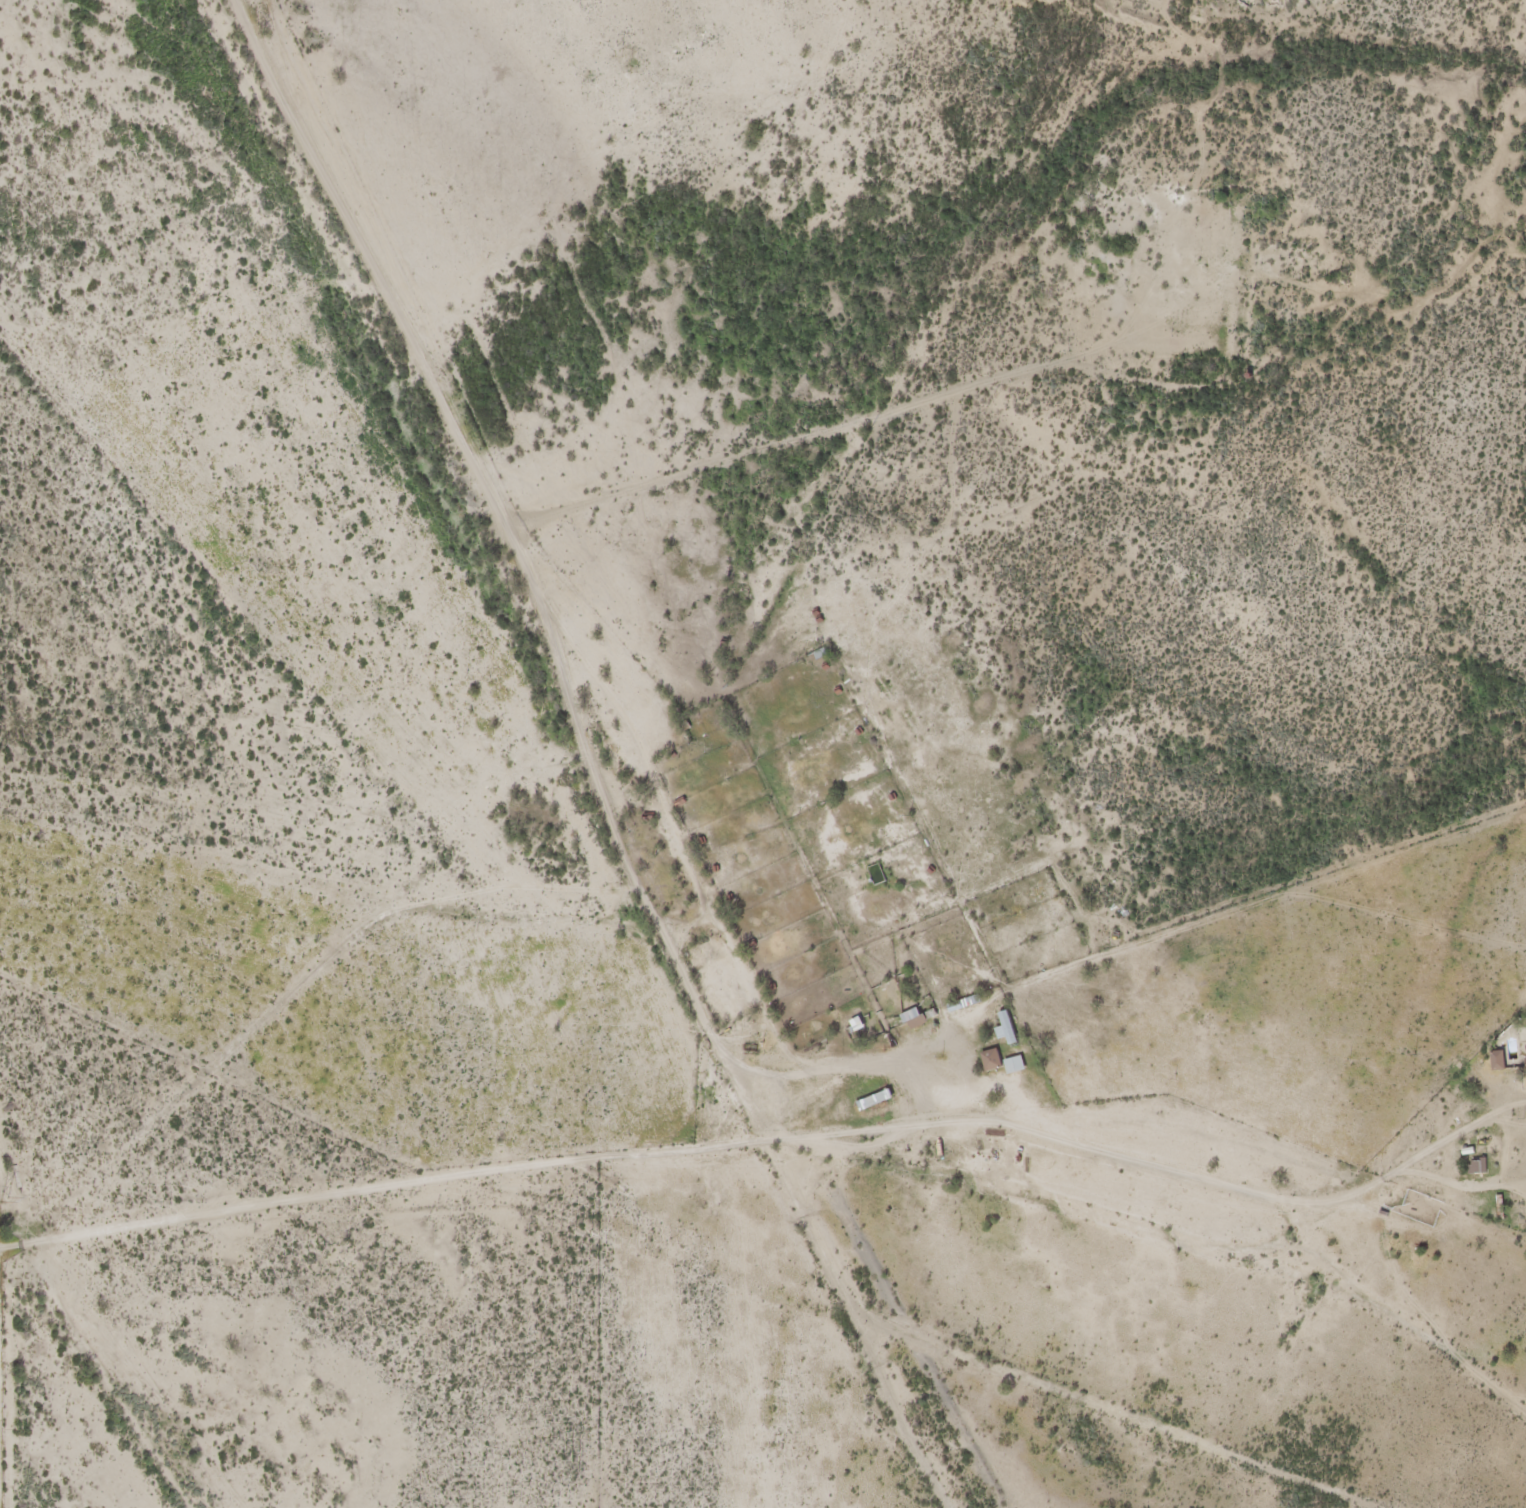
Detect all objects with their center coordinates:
road: (1427, 121)
road: (505, 447)
road: (1019, 680)
road: (191, 687)
road: (650, 723)
road: (585, 931)
building: (1000, 1028)
building: (856, 1029)
building: (1524, 1055)
building: (985, 1062)
building: (1007, 1066)
building: (868, 1102)
power tower: (10, 1201)
road: (1182, 1232)
road: (103, 1377)
road: (866, 1445)

